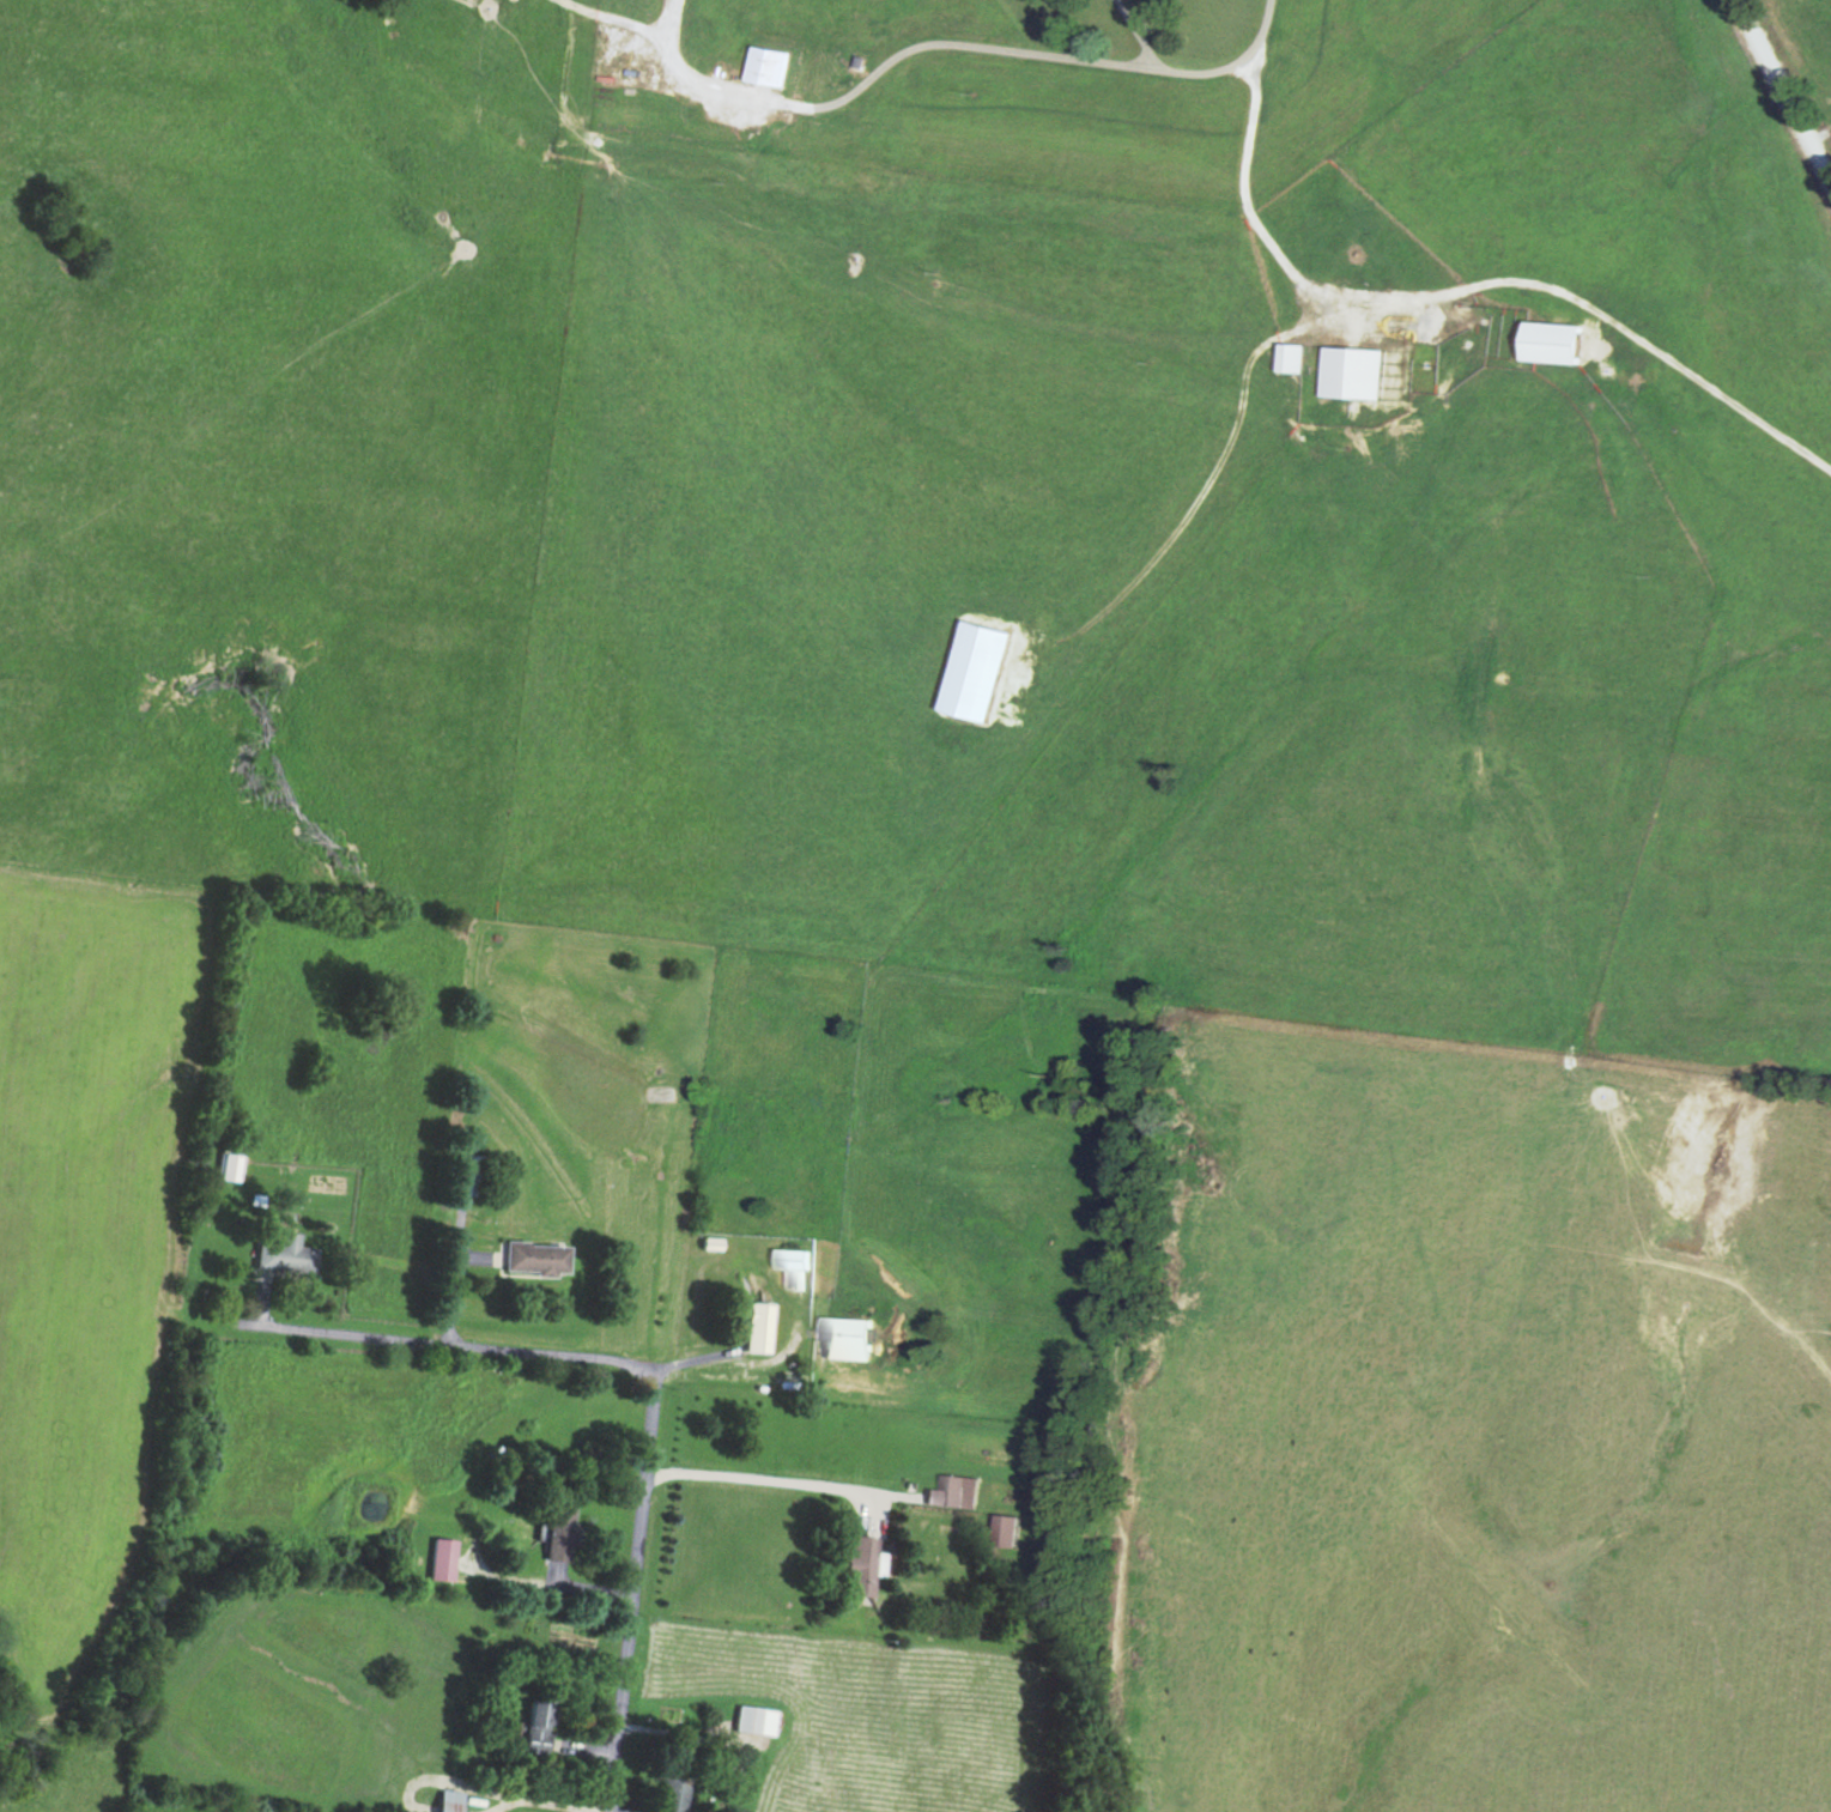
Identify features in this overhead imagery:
road: (1814, 26)
building: (766, 65)
road: (1394, 263)
building: (1548, 341)
building: (1290, 357)
building: (1350, 371)
building: (972, 671)
building: (226, 1163)
building: (280, 1255)
building: (528, 1258)
building: (793, 1259)
building: (753, 1326)
building: (843, 1338)
road: (758, 1477)
building: (957, 1490)
building: (554, 1545)
building: (437, 1557)
building: (855, 1557)
road: (623, 1578)
road: (1136, 1631)
building: (750, 1719)
building: (534, 1723)
building: (667, 1794)
building: (445, 1800)

